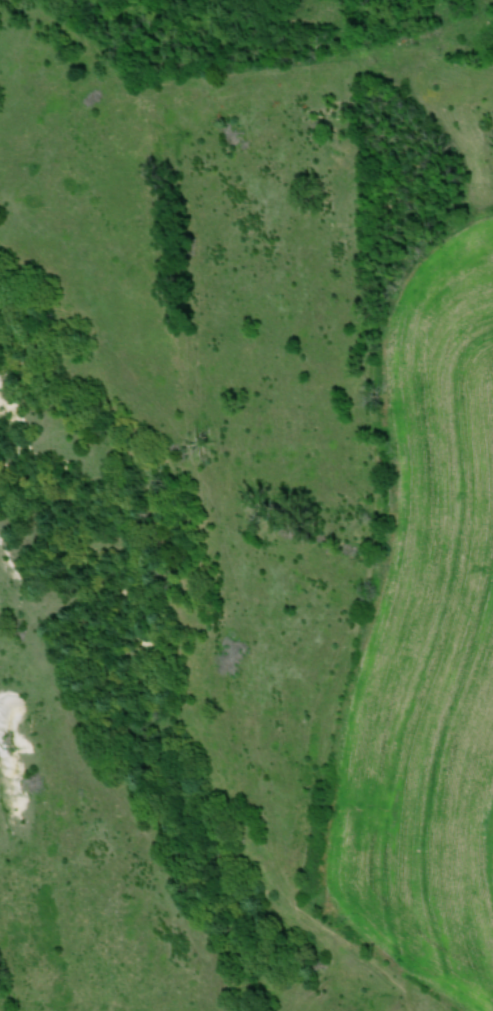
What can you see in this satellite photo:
crop: (430, 650)

